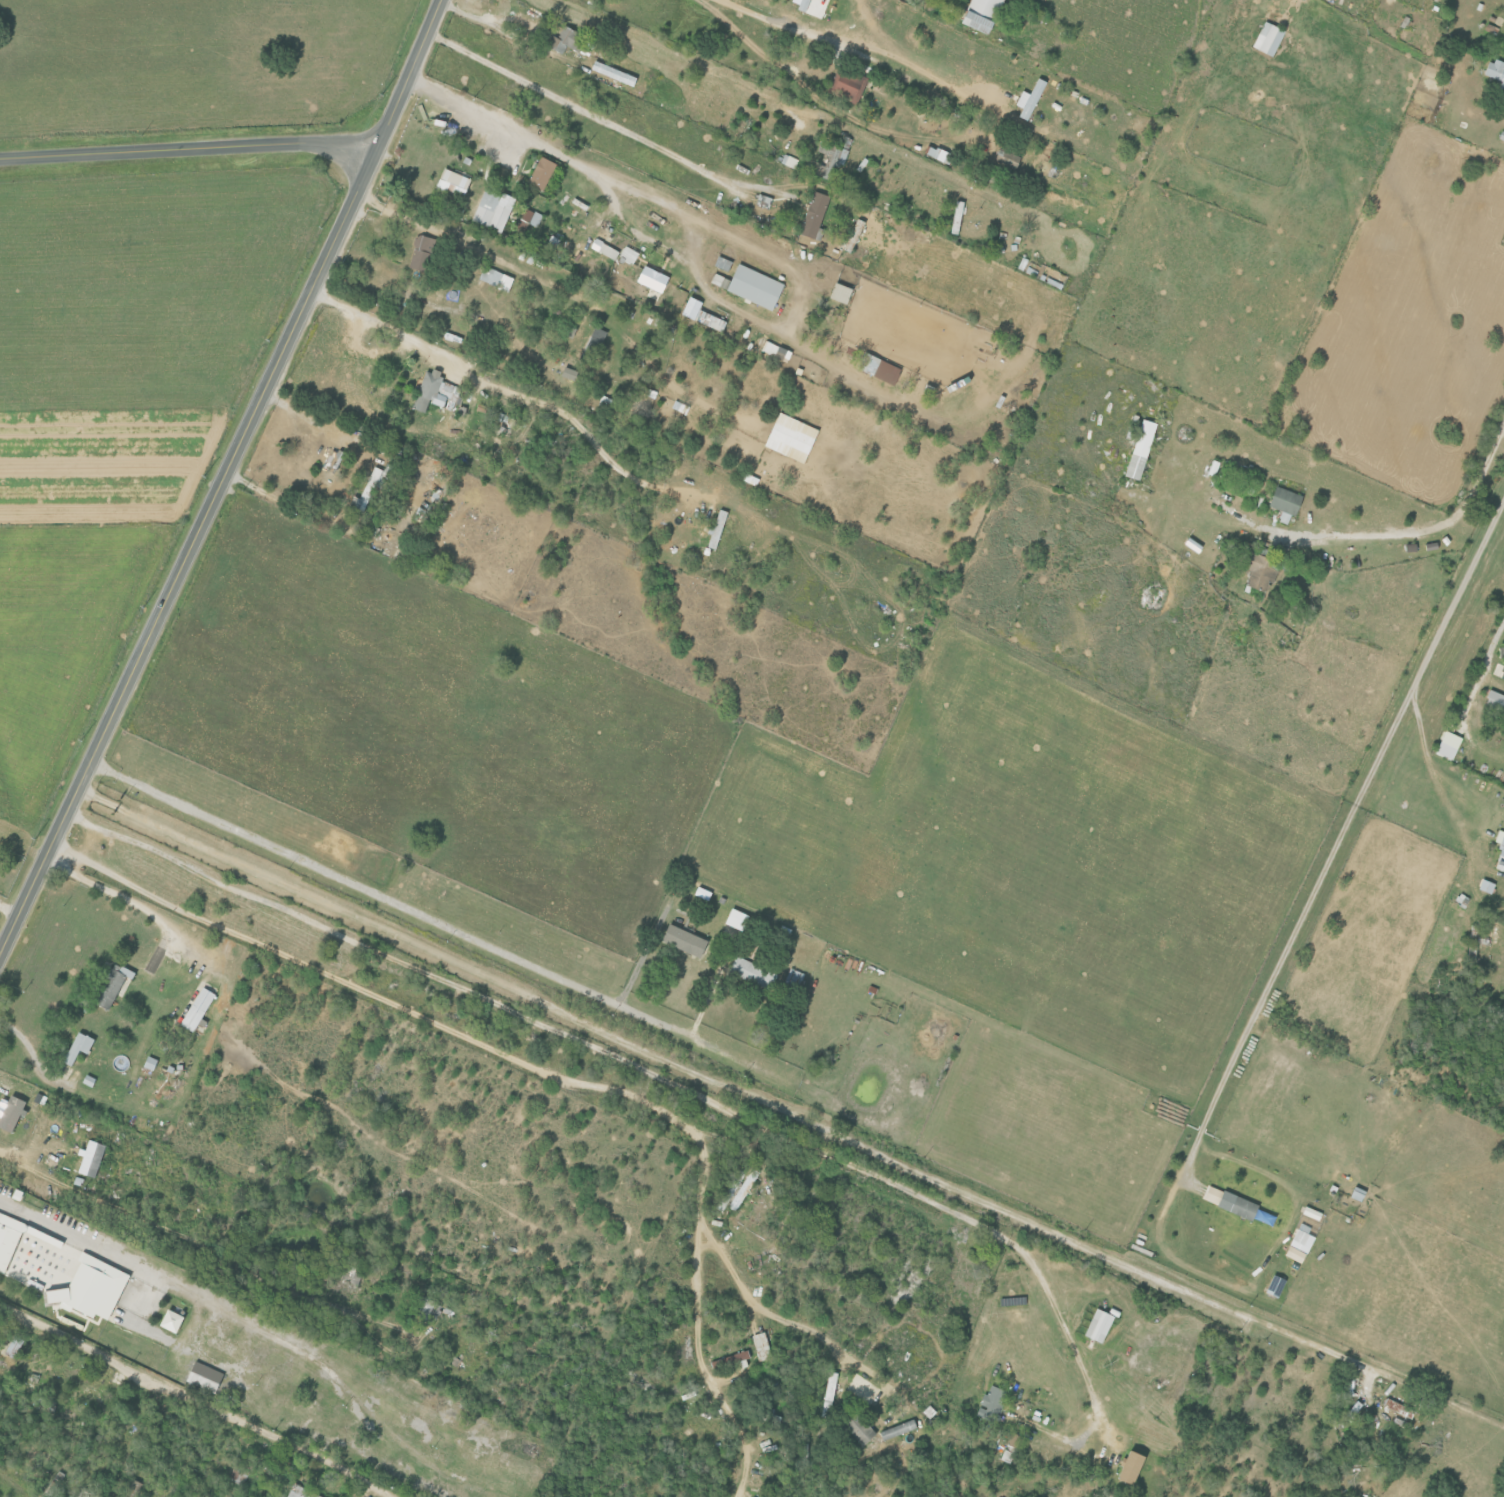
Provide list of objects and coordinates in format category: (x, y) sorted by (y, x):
building: (799, 4)
building: (981, 15)
road: (477, 18)
road: (635, 37)
building: (1268, 39)
building: (564, 40)
road: (851, 49)
building: (1495, 72)
building: (847, 85)
building: (1028, 99)
road: (586, 112)
road: (514, 127)
building: (1501, 135)
road: (798, 136)
building: (934, 138)
road: (497, 143)
road: (187, 147)
building: (838, 153)
building: (935, 154)
building: (1007, 159)
building: (787, 160)
building: (542, 173)
road: (485, 178)
building: (450, 182)
building: (763, 201)
building: (491, 212)
building: (814, 216)
building: (528, 219)
building: (854, 236)
building: (607, 252)
building: (419, 253)
building: (631, 260)
building: (721, 263)
building: (491, 277)
building: (653, 279)
building: (755, 287)
building: (840, 294)
building: (487, 297)
building: (691, 308)
road: (786, 319)
building: (710, 321)
building: (591, 345)
building: (770, 349)
building: (869, 364)
building: (567, 373)
road: (512, 387)
building: (429, 393)
building: (605, 402)
road: (522, 426)
building: (789, 437)
road: (352, 440)
building: (1138, 449)
building: (332, 458)
road: (222, 477)
building: (438, 488)
building: (367, 490)
road: (395, 503)
building: (1283, 505)
building: (715, 529)
building: (373, 532)
road: (1388, 534)
building: (1256, 568)
road: (1489, 649)
building: (1503, 675)
building: (1495, 701)
road: (1427, 715)
building: (1443, 750)
road: (1461, 813)
building: (1501, 844)
building: (1486, 886)
road: (390, 897)
road: (127, 901)
road: (8, 911)
road: (1303, 913)
building: (735, 919)
building: (682, 940)
building: (751, 972)
building: (109, 984)
building: (195, 1008)
road: (401, 1008)
building: (75, 1048)
road: (29, 1050)
building: (148, 1062)
road: (646, 1066)
road: (732, 1083)
building: (9, 1112)
building: (89, 1158)
building: (743, 1189)
building: (729, 1190)
road: (1296, 1192)
building: (1228, 1202)
building: (13, 1236)
road: (80, 1236)
building: (1298, 1243)
road: (202, 1248)
building: (89, 1287)
road: (766, 1304)
building: (426, 1309)
building: (168, 1320)
building: (1097, 1325)
building: (13, 1346)
building: (760, 1346)
road: (701, 1356)
building: (736, 1356)
building: (202, 1376)
building: (828, 1394)
building: (989, 1399)
road: (198, 1402)
building: (1353, 1409)
building: (858, 1428)
building: (897, 1429)
building: (1011, 1439)
building: (1006, 1456)
building: (1127, 1467)
building: (299, 1492)

